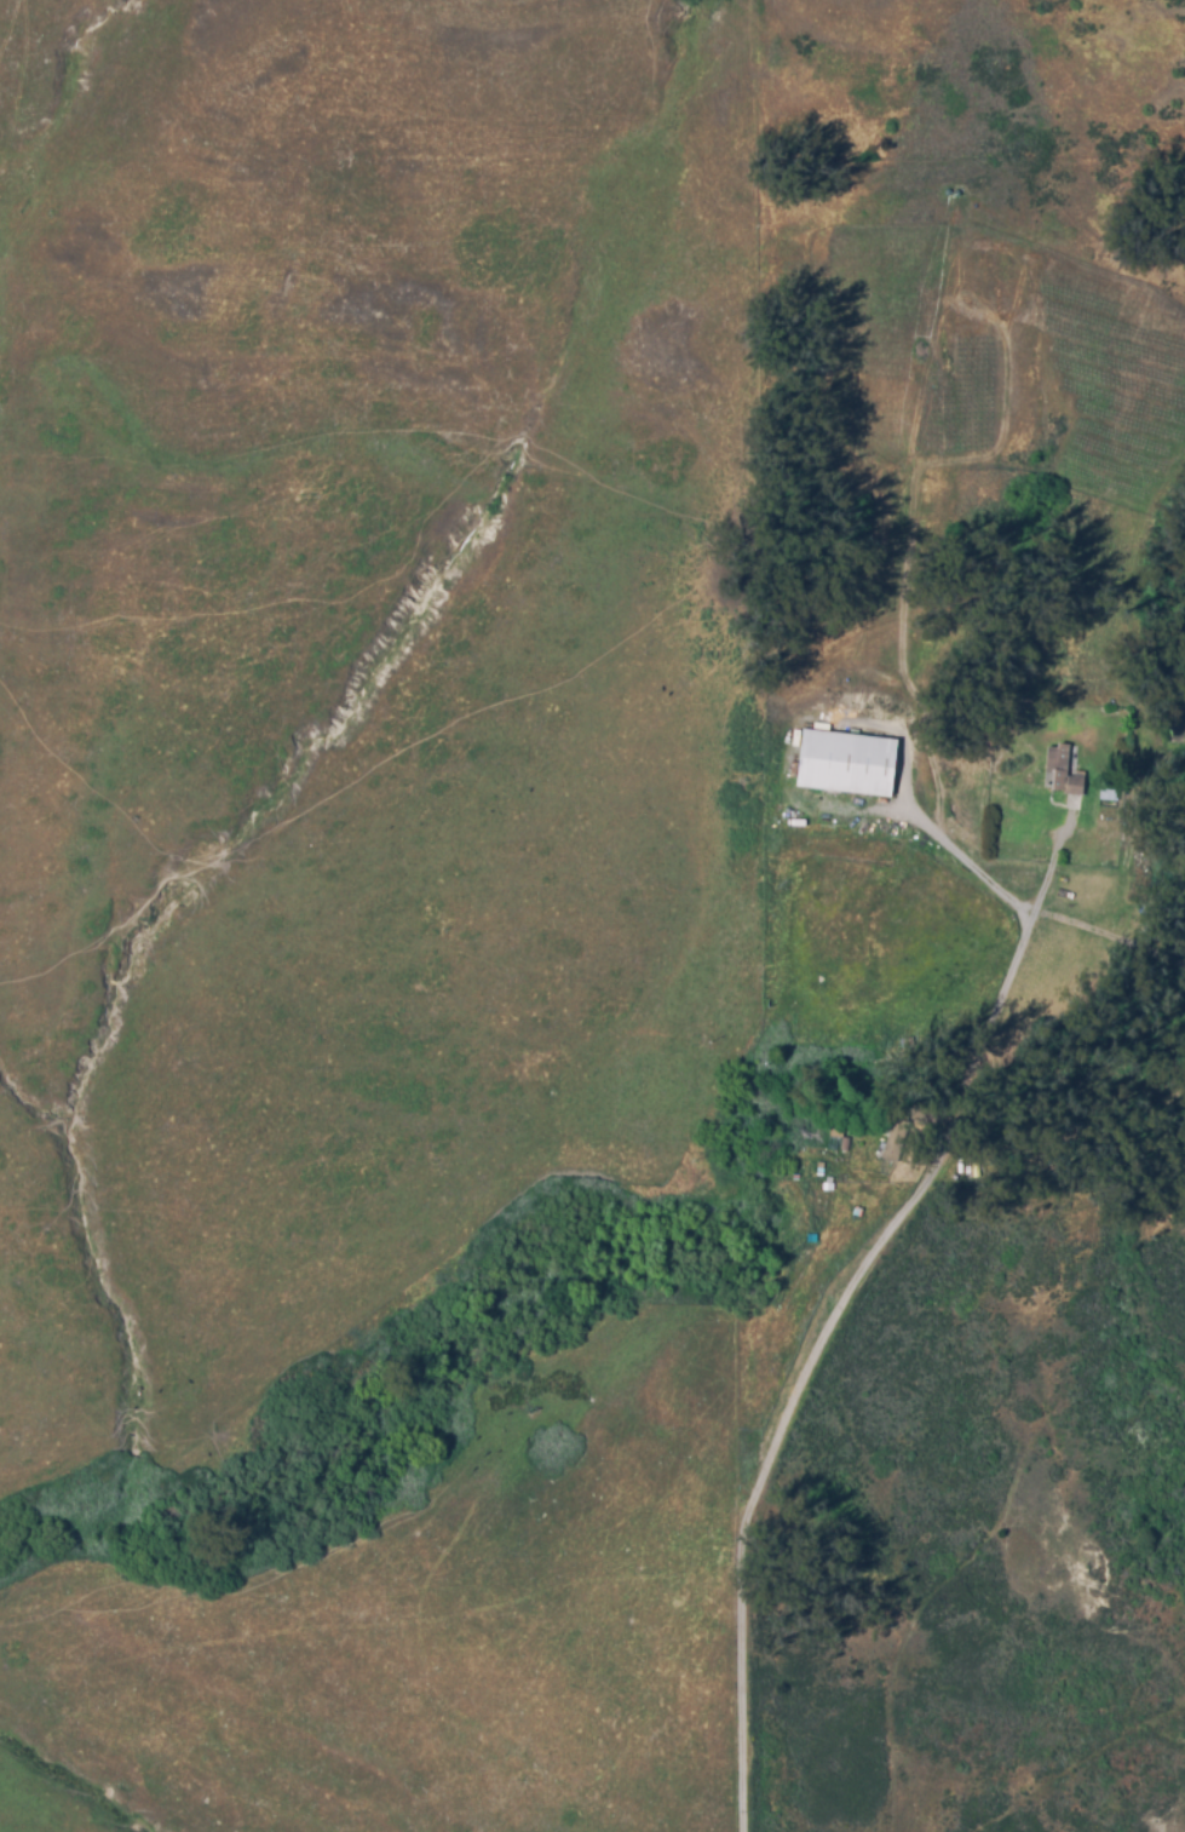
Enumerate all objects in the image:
building: (849, 763)
building: (1066, 771)
building: (1112, 792)
road: (947, 856)
road: (1053, 862)
road: (1110, 935)
building: (812, 1136)
building: (849, 1142)
building: (897, 1143)
road: (810, 1350)

